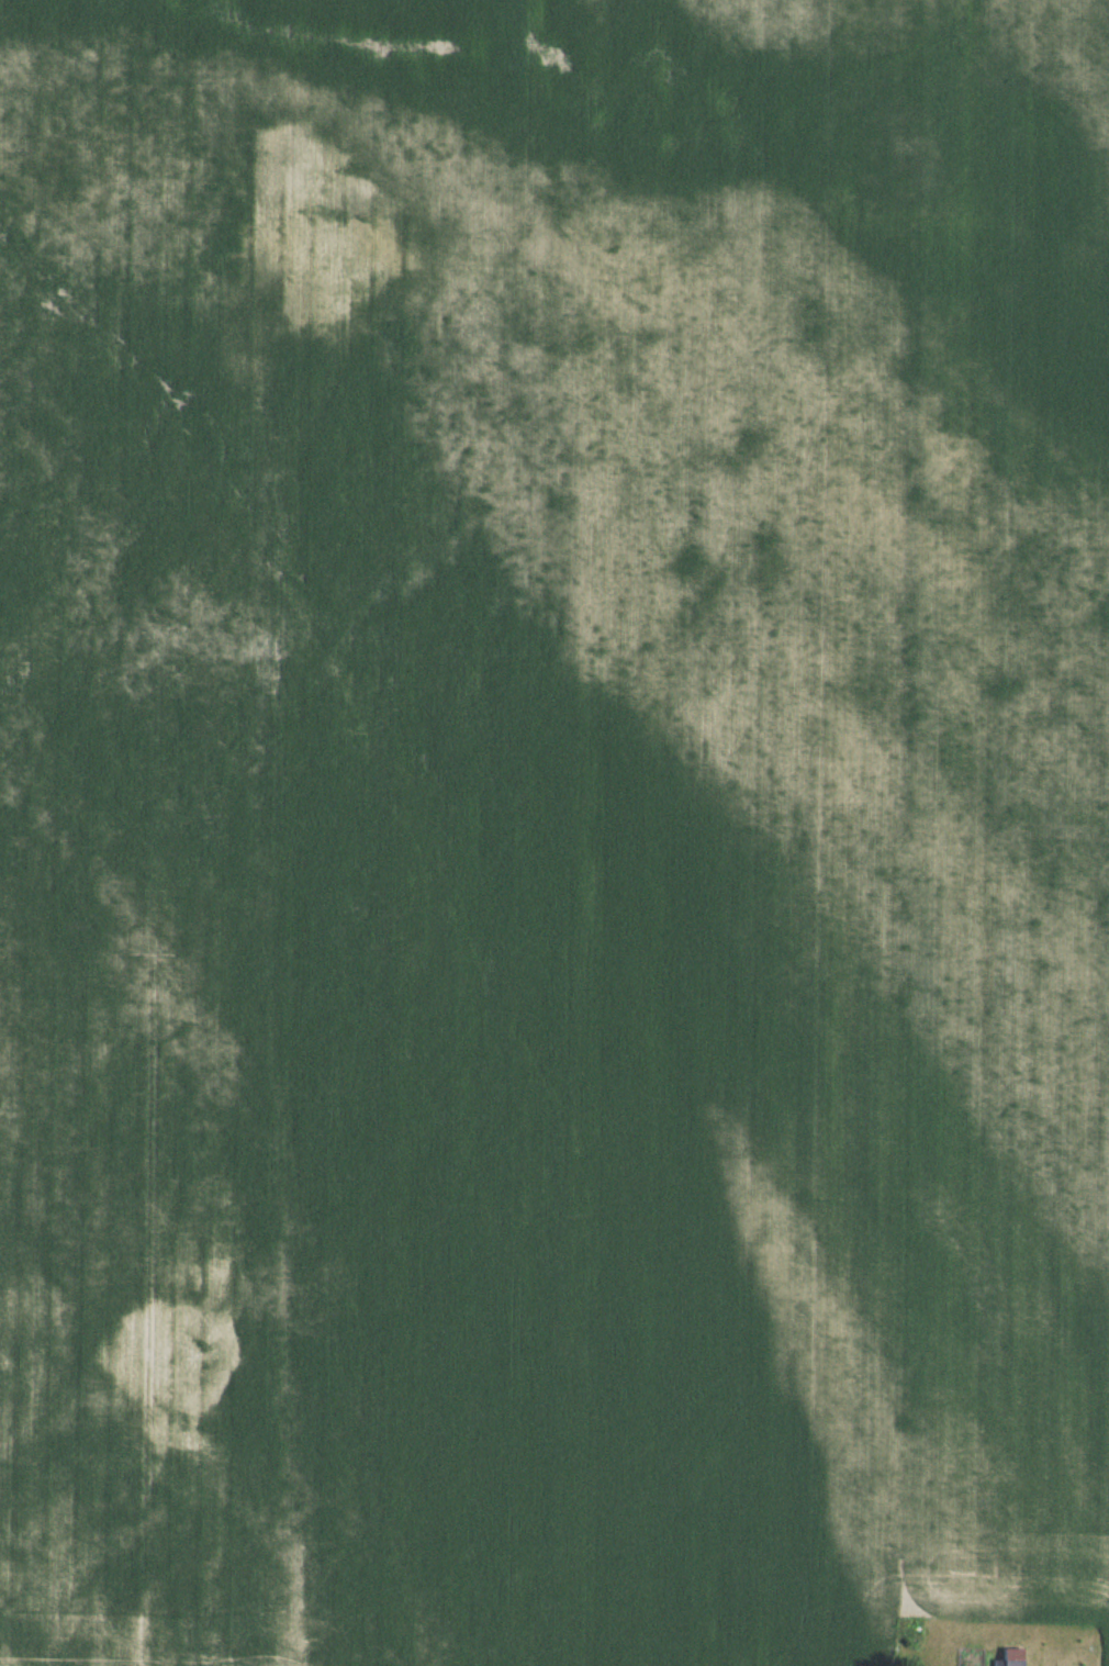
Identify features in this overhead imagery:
building: (1009, 1658)

